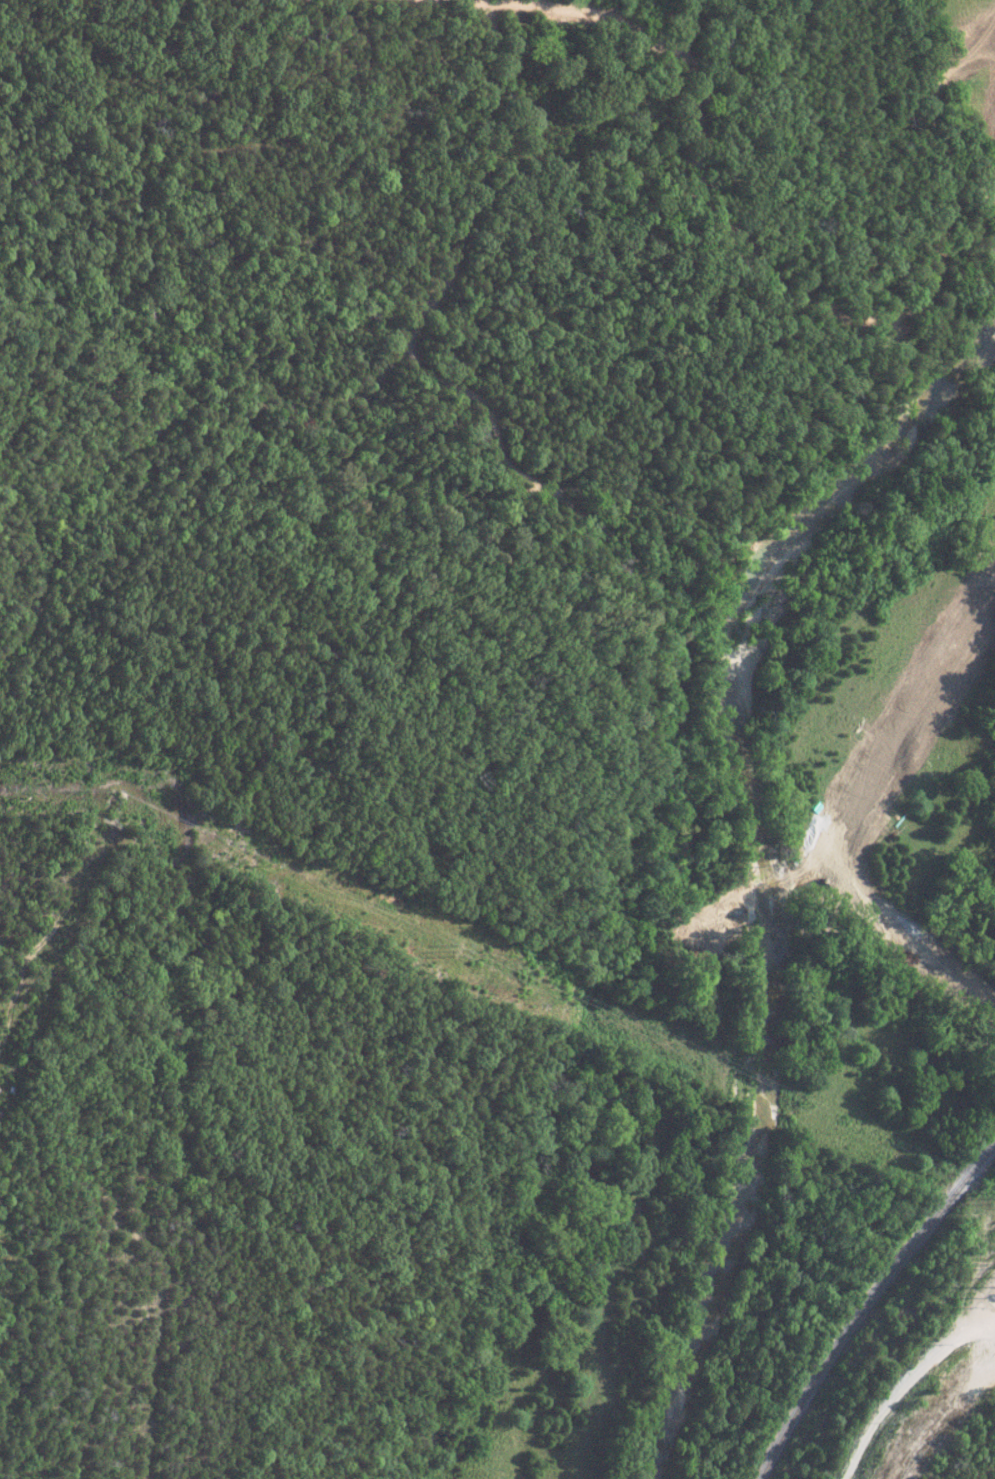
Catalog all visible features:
railway: (868, 1301)

